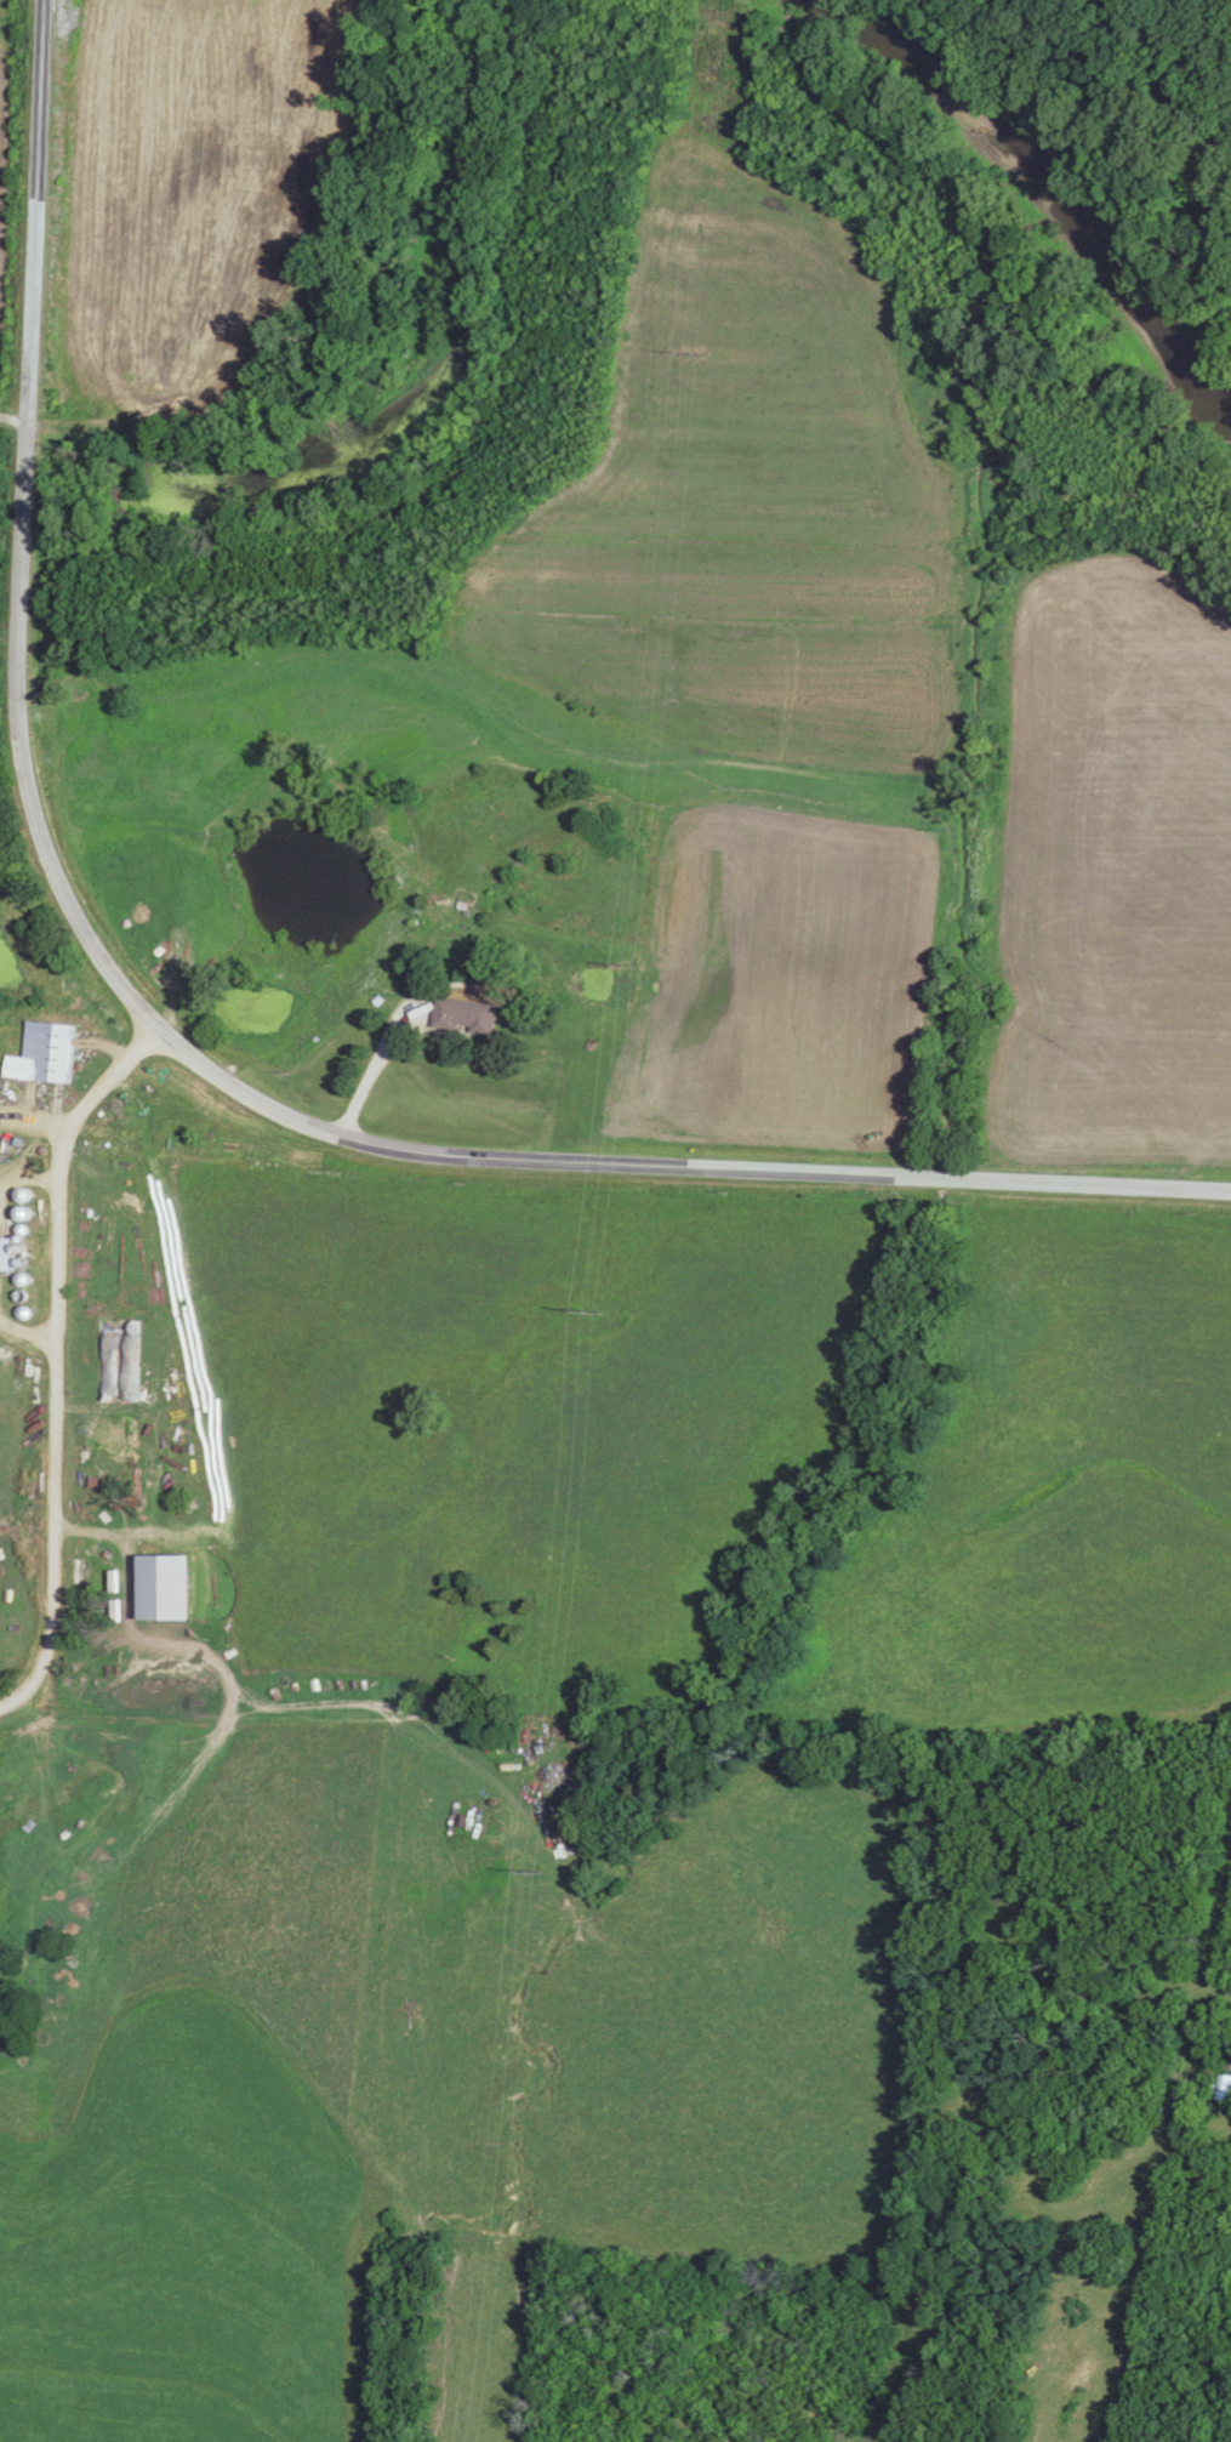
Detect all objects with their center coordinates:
river: (1053, 183)
power tower: (685, 343)
power tower: (622, 960)
building: (461, 1014)
road: (175, 1041)
building: (41, 1053)
road: (378, 1066)
road: (35, 1120)
power tower: (587, 1305)
road: (28, 1337)
road: (57, 1360)
building: (118, 1360)
building: (156, 1586)
power tower: (523, 1862)
building: (1219, 2088)

